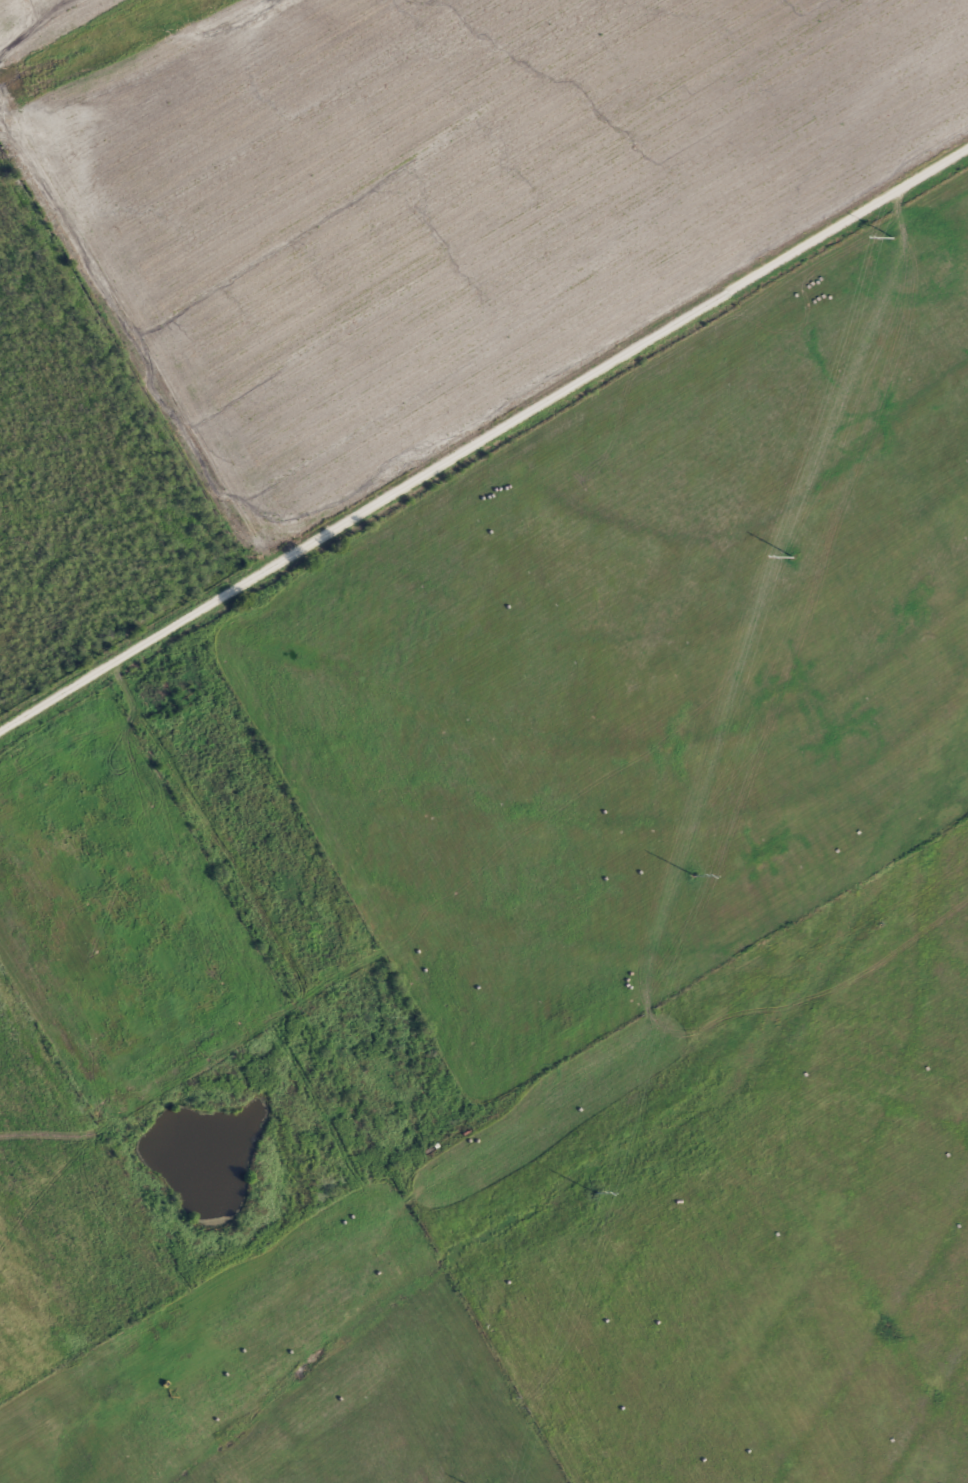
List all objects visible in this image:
power tower: (896, 236)
road: (483, 433)
power tower: (795, 556)
power tower: (696, 875)
power tower: (595, 1191)

